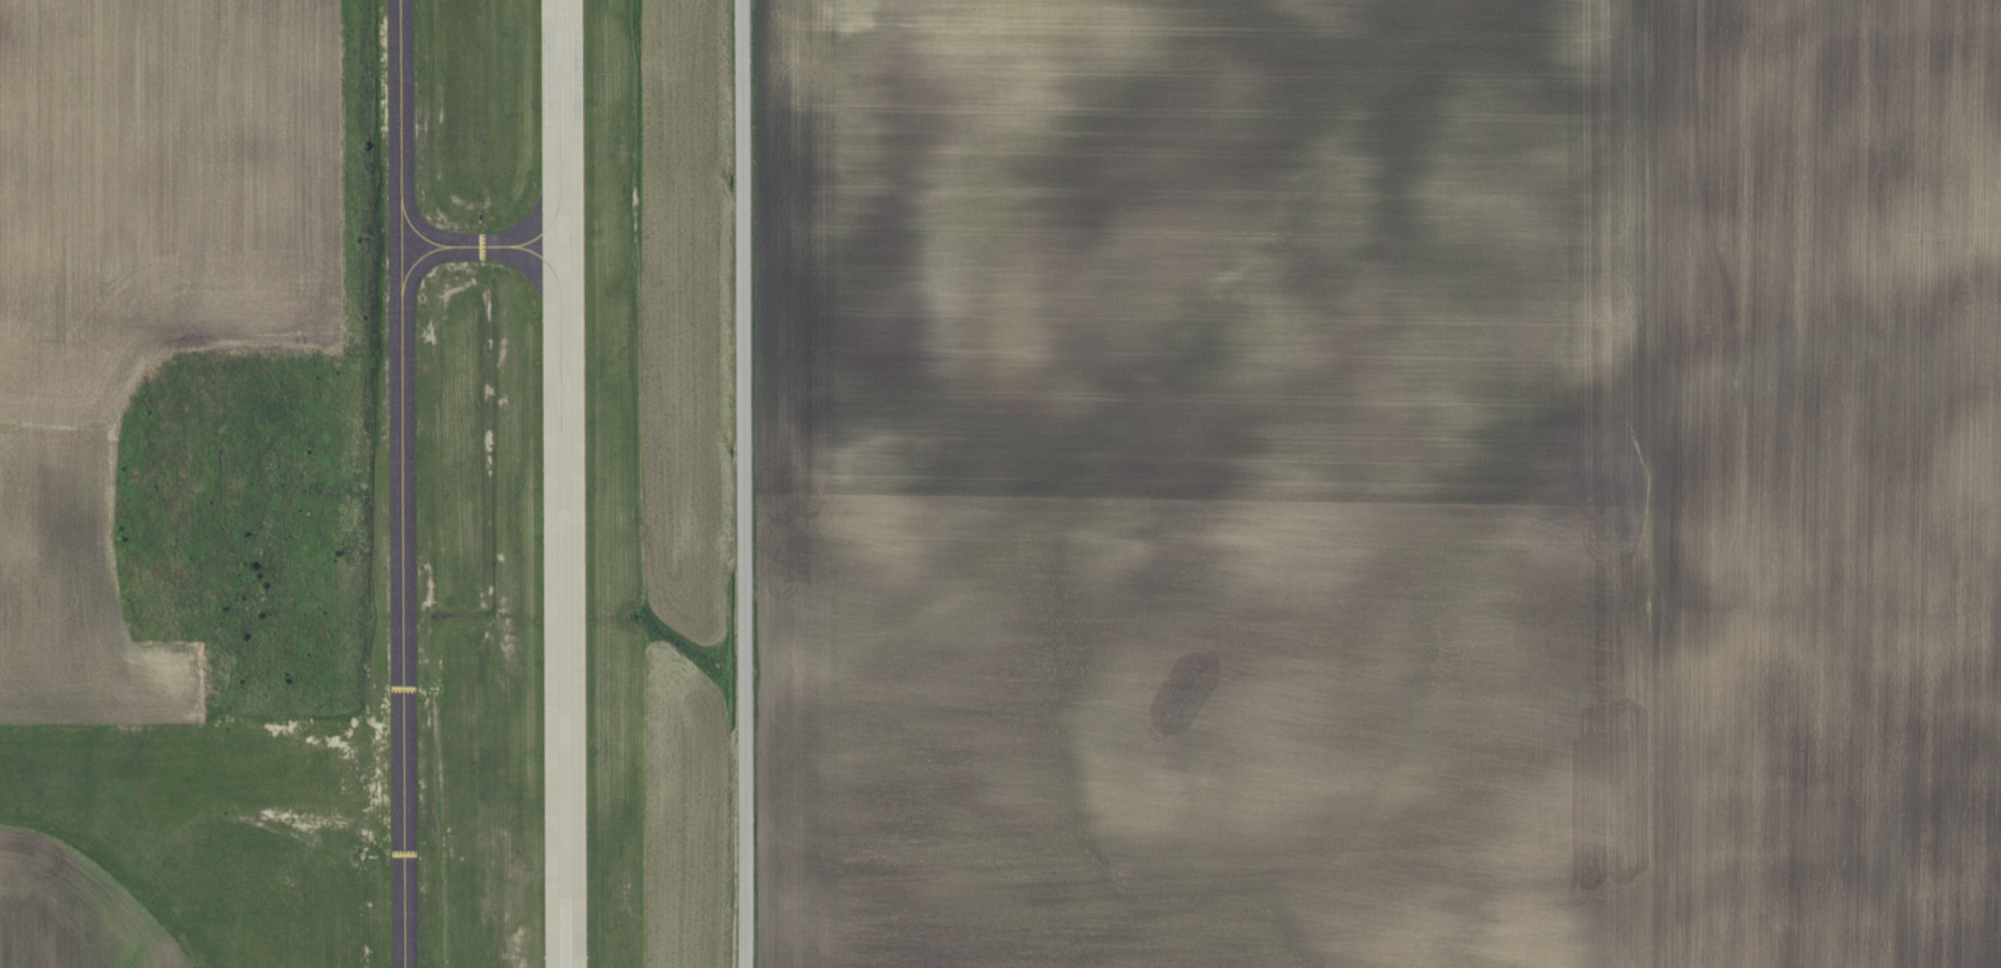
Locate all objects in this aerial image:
airport taxiway: (481, 246)
airport taxiway: (401, 484)
airport runway: (563, 484)
road: (743, 484)
airport: (402, 542)
airport taxiway: (311, 772)
airport runway: (109, 774)

